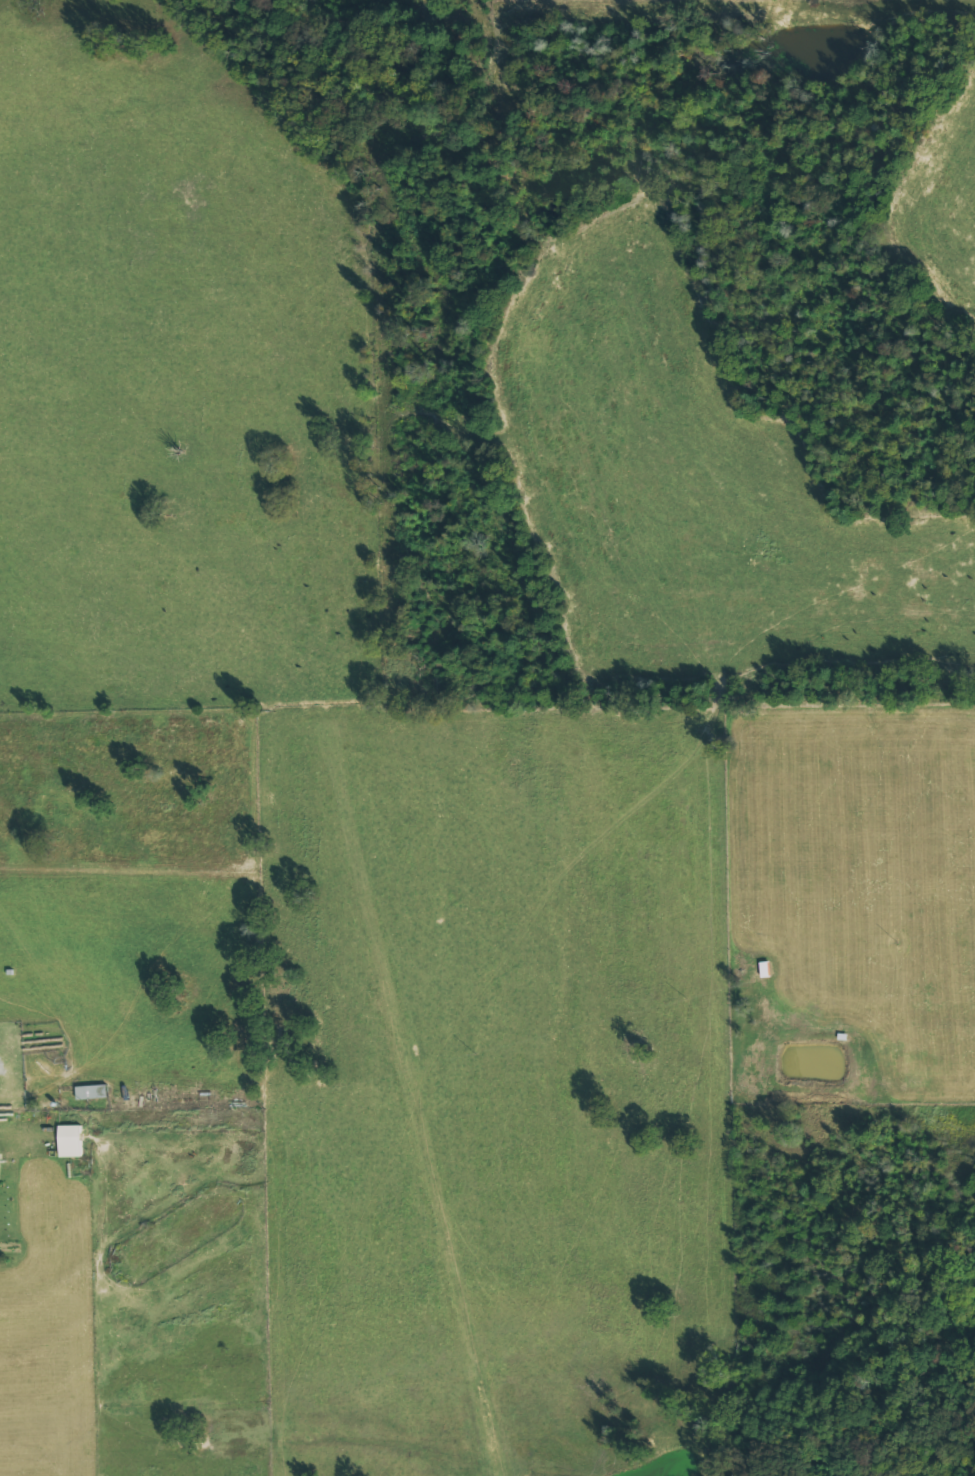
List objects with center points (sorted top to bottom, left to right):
building: (96, 1092)
building: (74, 1141)
building: (1, 1163)

